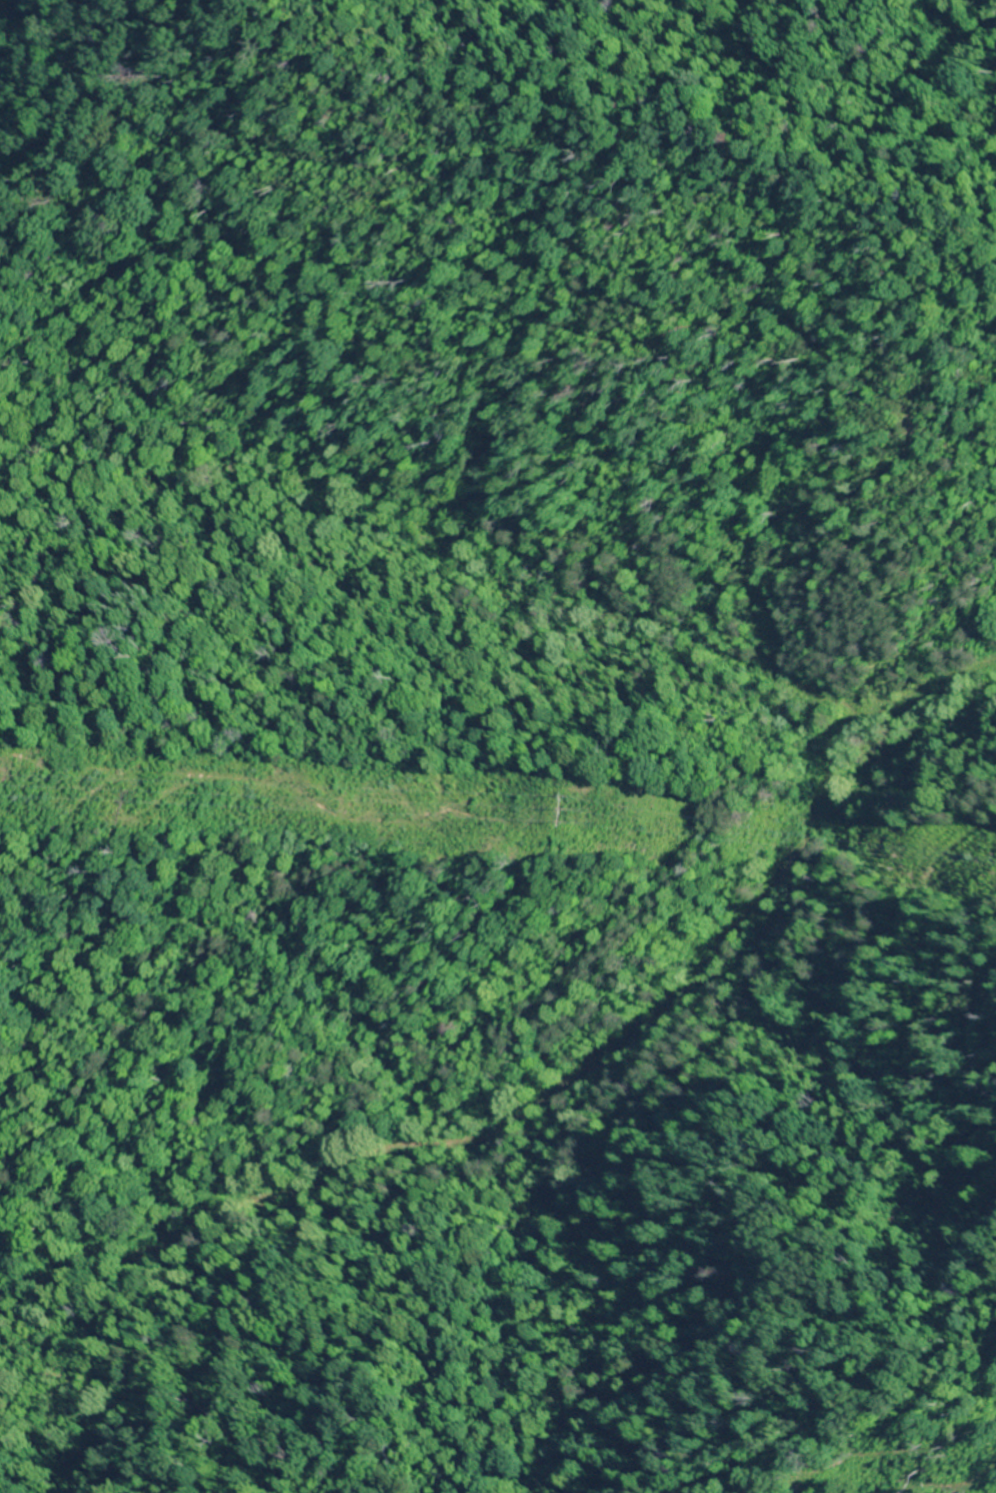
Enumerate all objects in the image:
road: (948, 675)

